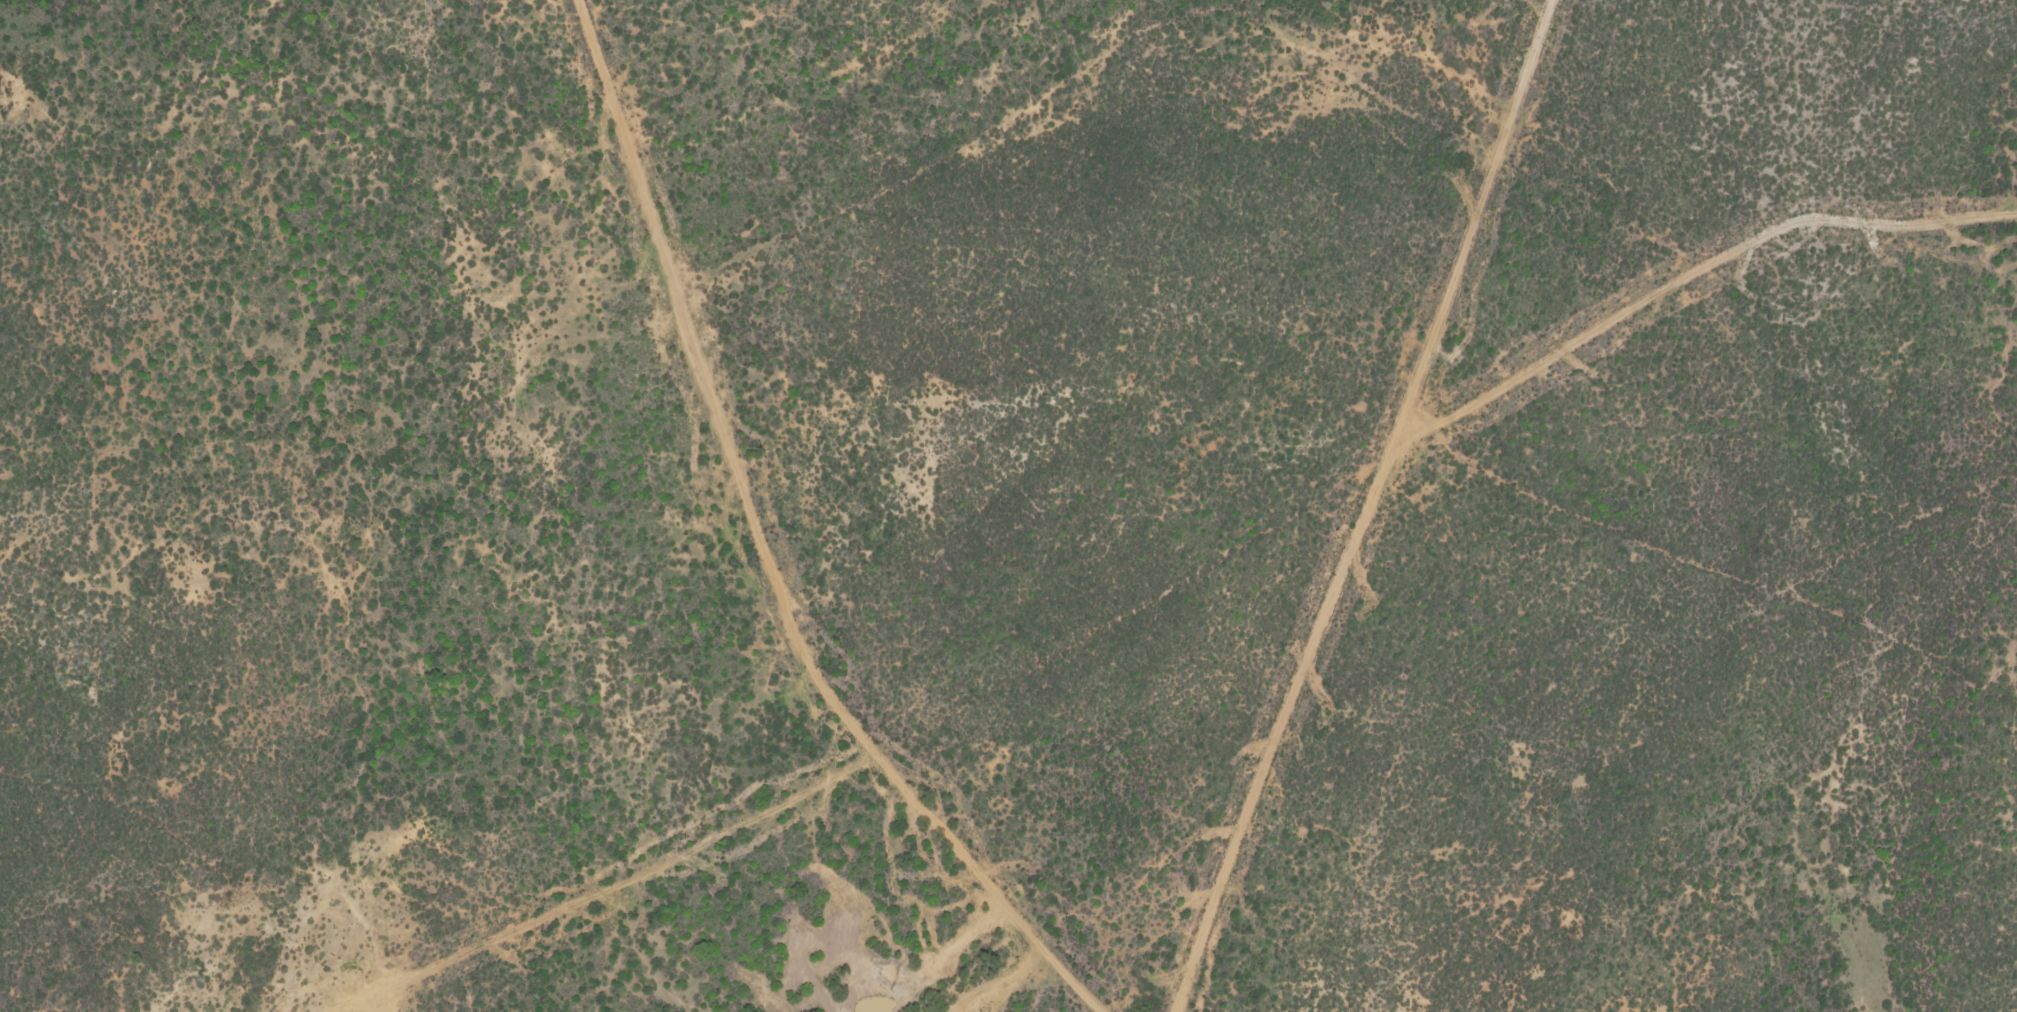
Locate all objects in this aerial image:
road: (1368, 508)
road: (763, 550)
road: (1709, 564)
road: (609, 889)

